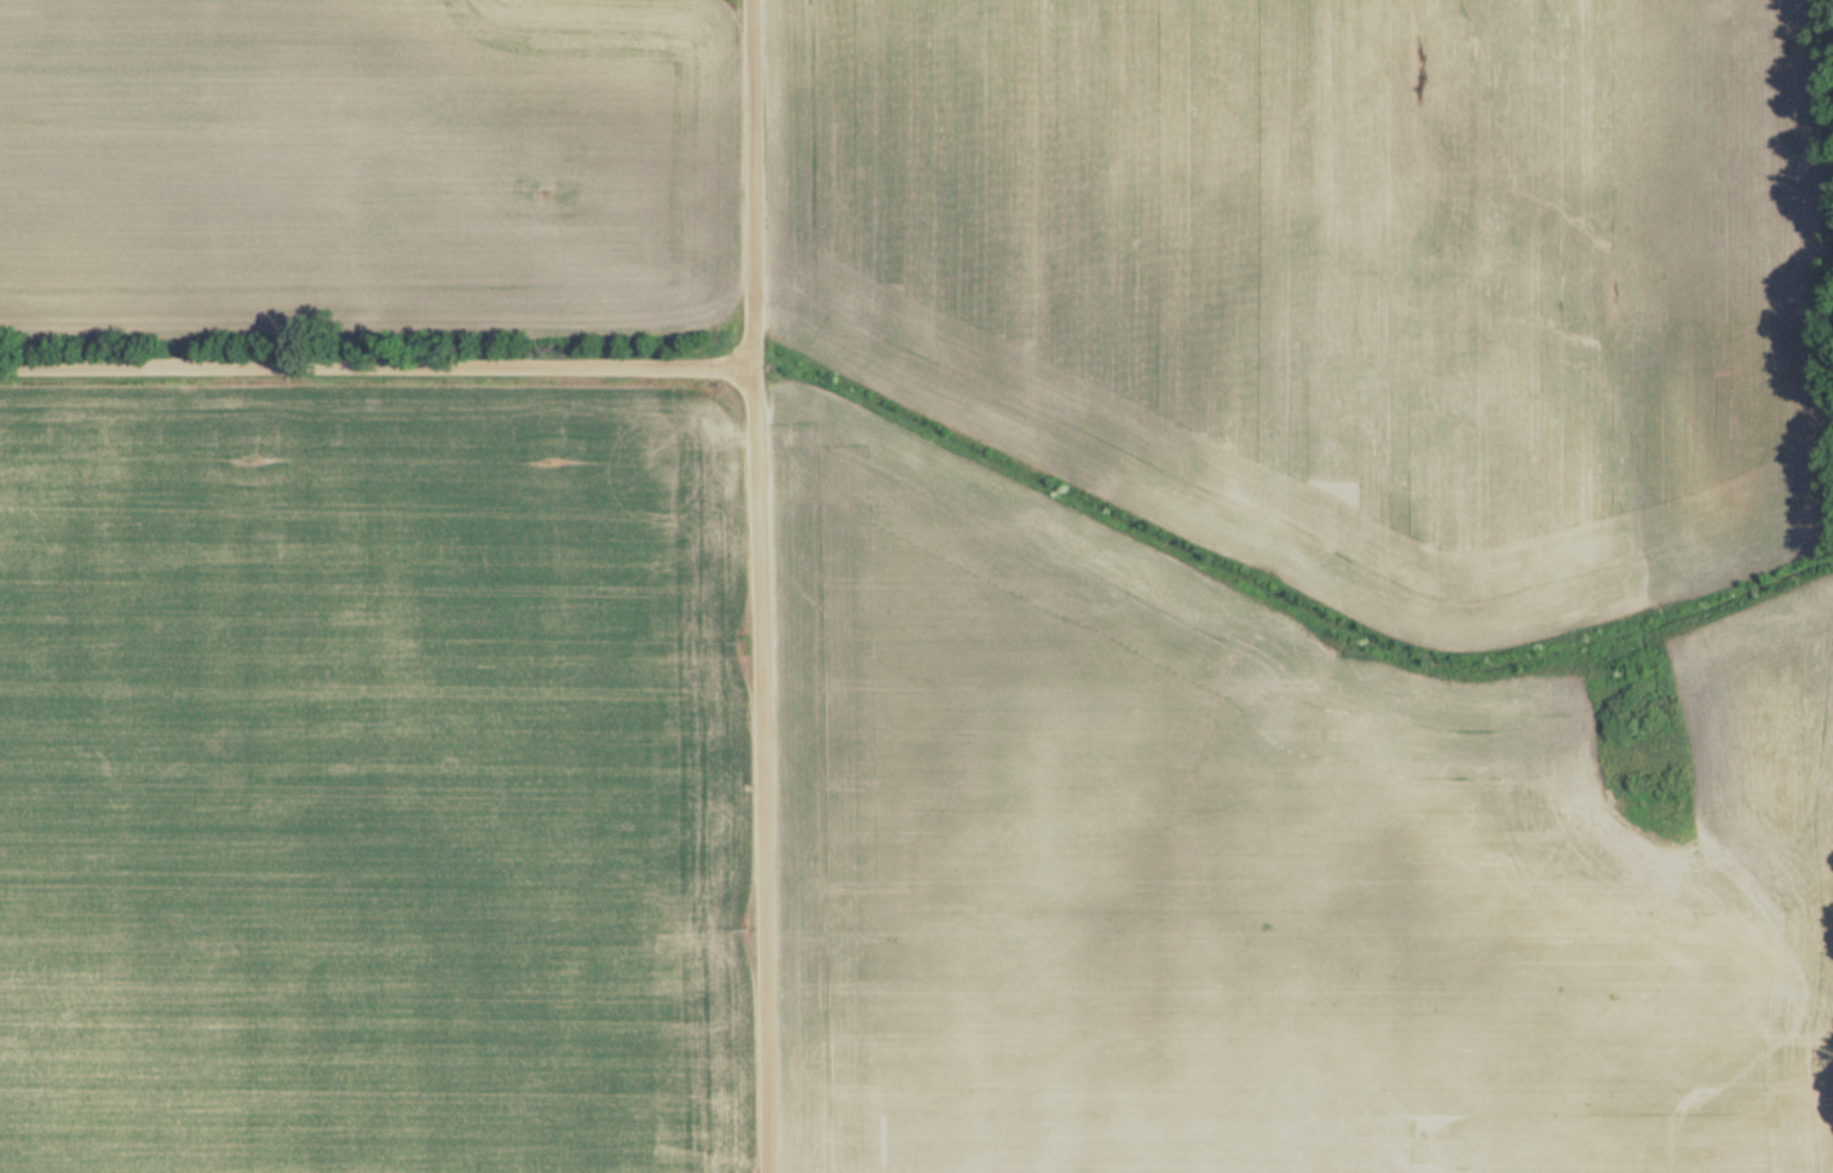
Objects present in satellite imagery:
road: (377, 364)
road: (759, 585)

